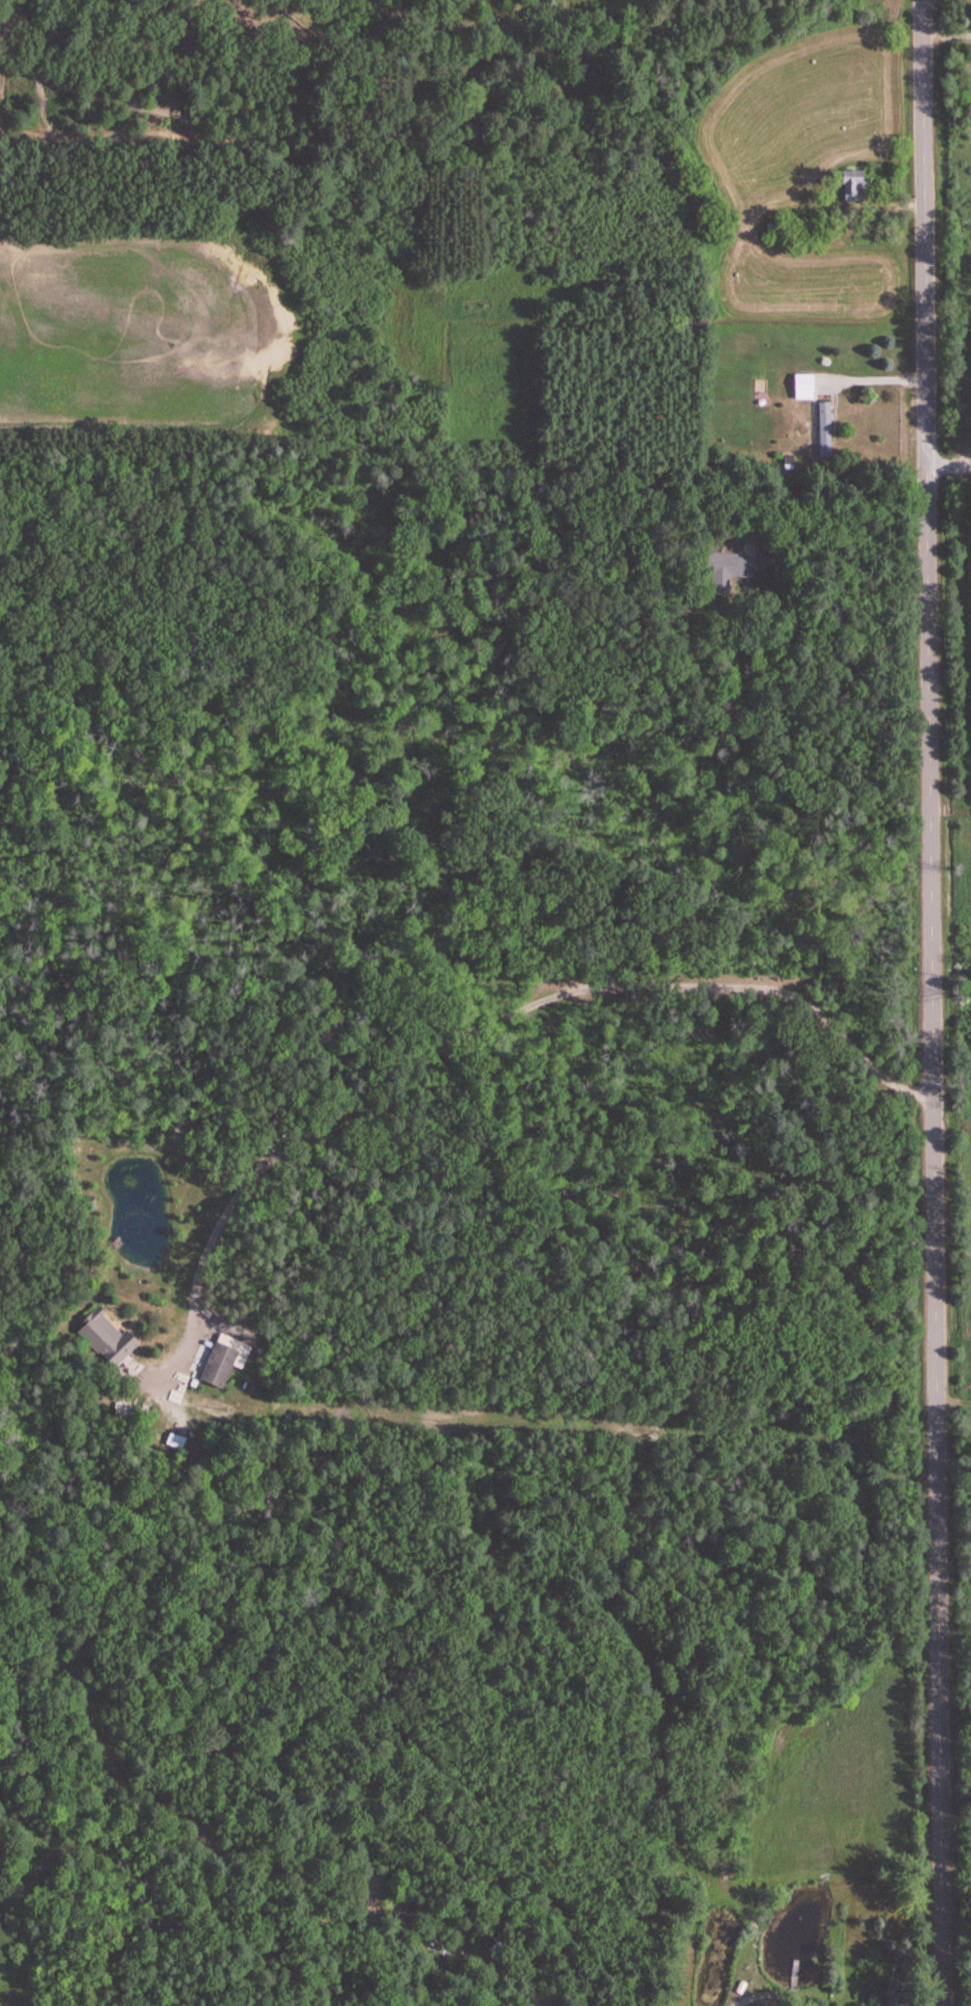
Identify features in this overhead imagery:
building: (848, 185)
road: (867, 363)
building: (800, 386)
building: (820, 429)
road: (949, 464)
road: (932, 1003)
road: (462, 1034)
building: (101, 1337)
building: (220, 1360)

